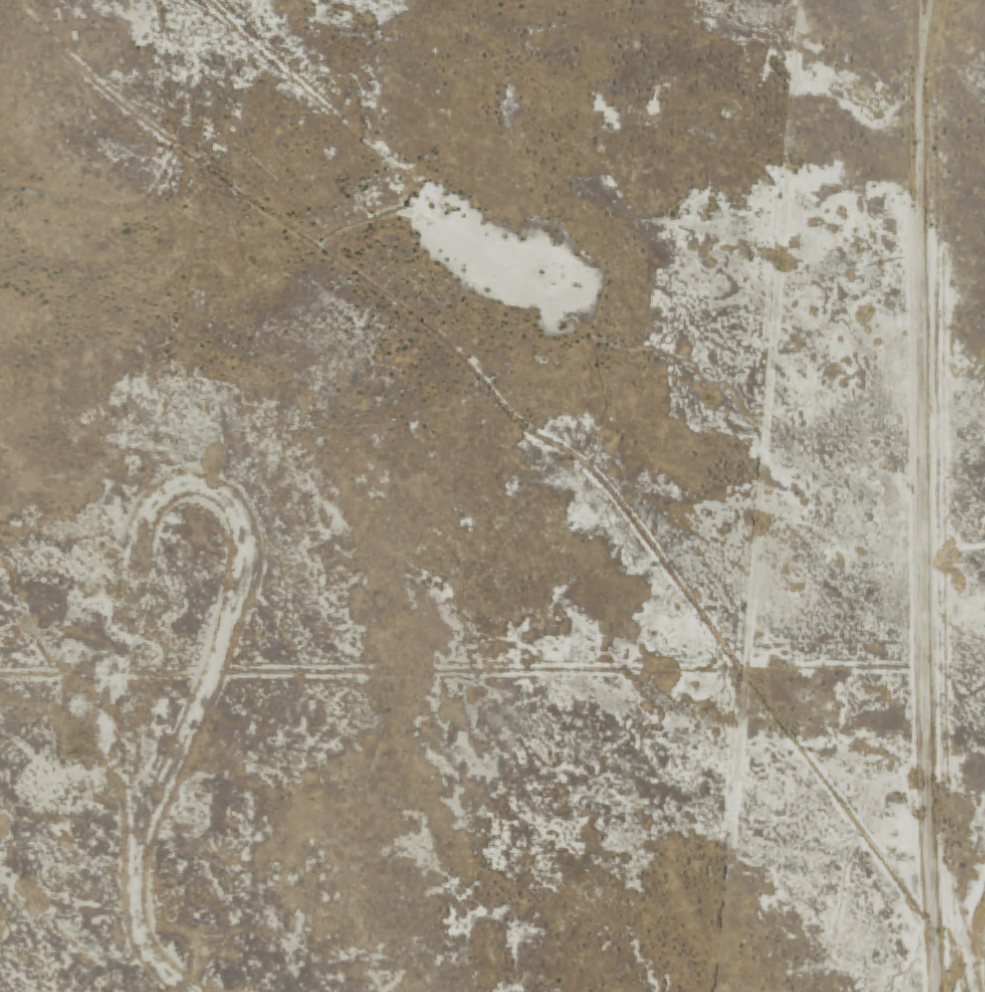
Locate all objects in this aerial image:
road: (922, 495)

